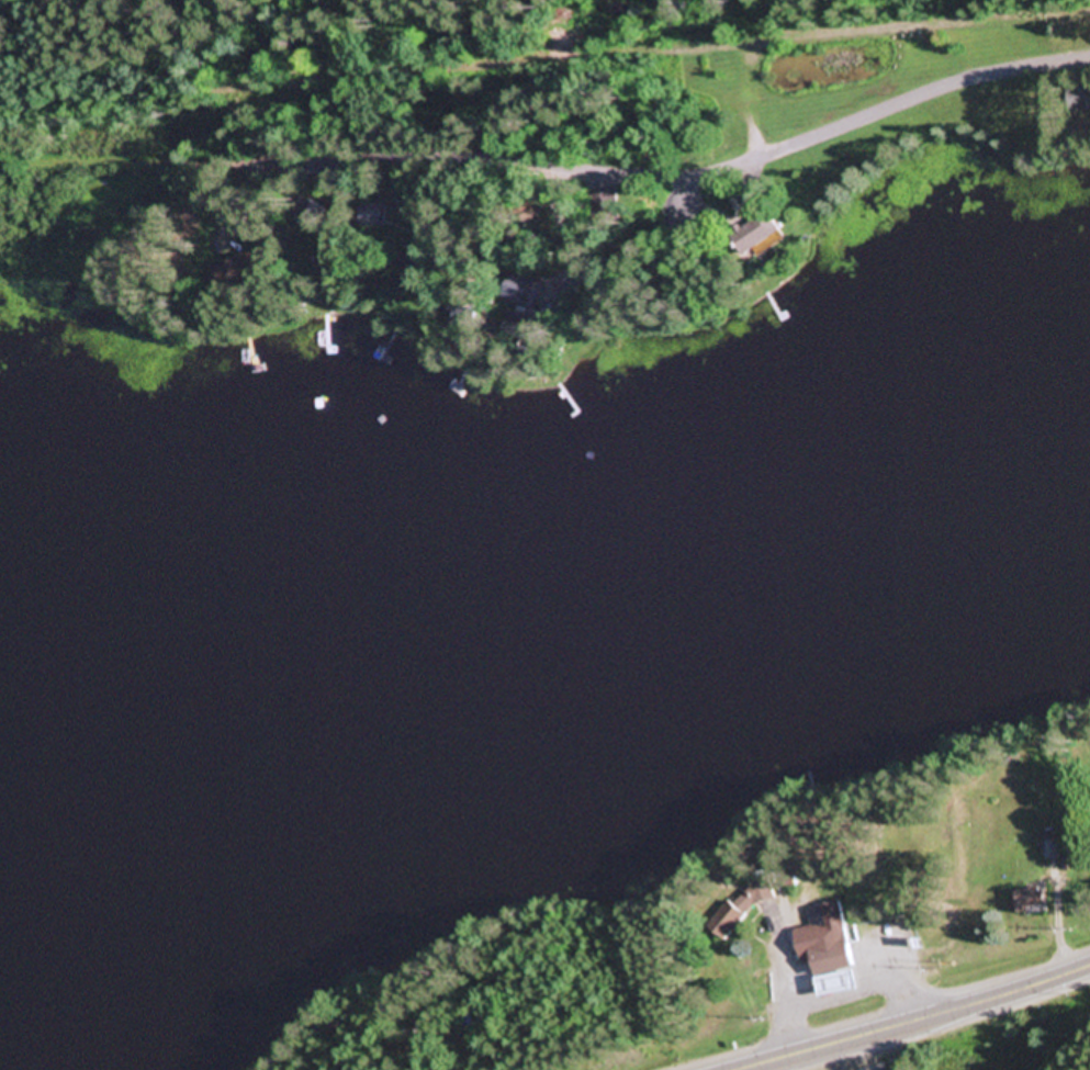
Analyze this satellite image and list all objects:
road: (64, 0)
road: (928, 26)
road: (742, 98)
building: (1080, 99)
road: (673, 176)
building: (608, 210)
building: (374, 216)
building: (758, 237)
building: (420, 269)
building: (520, 291)
building: (1032, 899)
building: (742, 911)
building: (823, 935)
road: (919, 1022)

